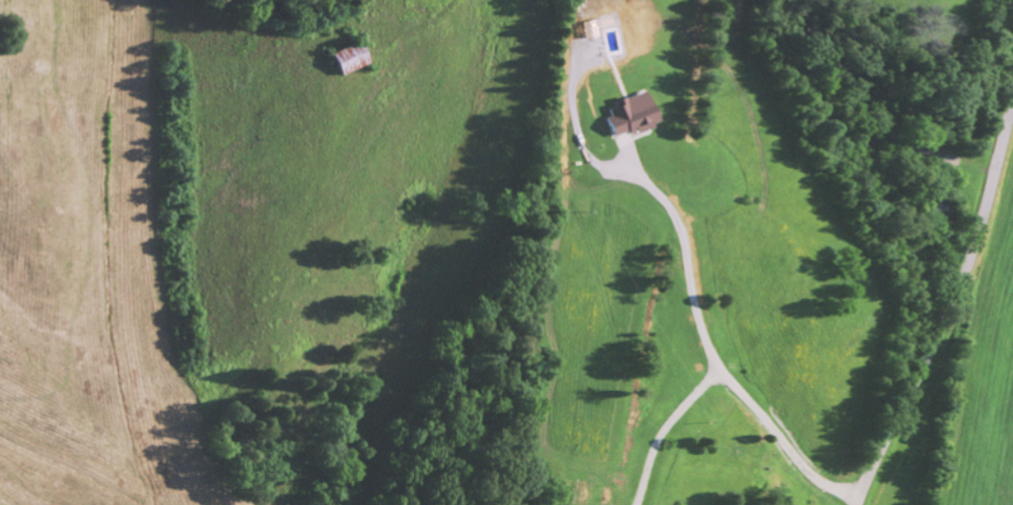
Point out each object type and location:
building: (633, 116)
road: (951, 305)

